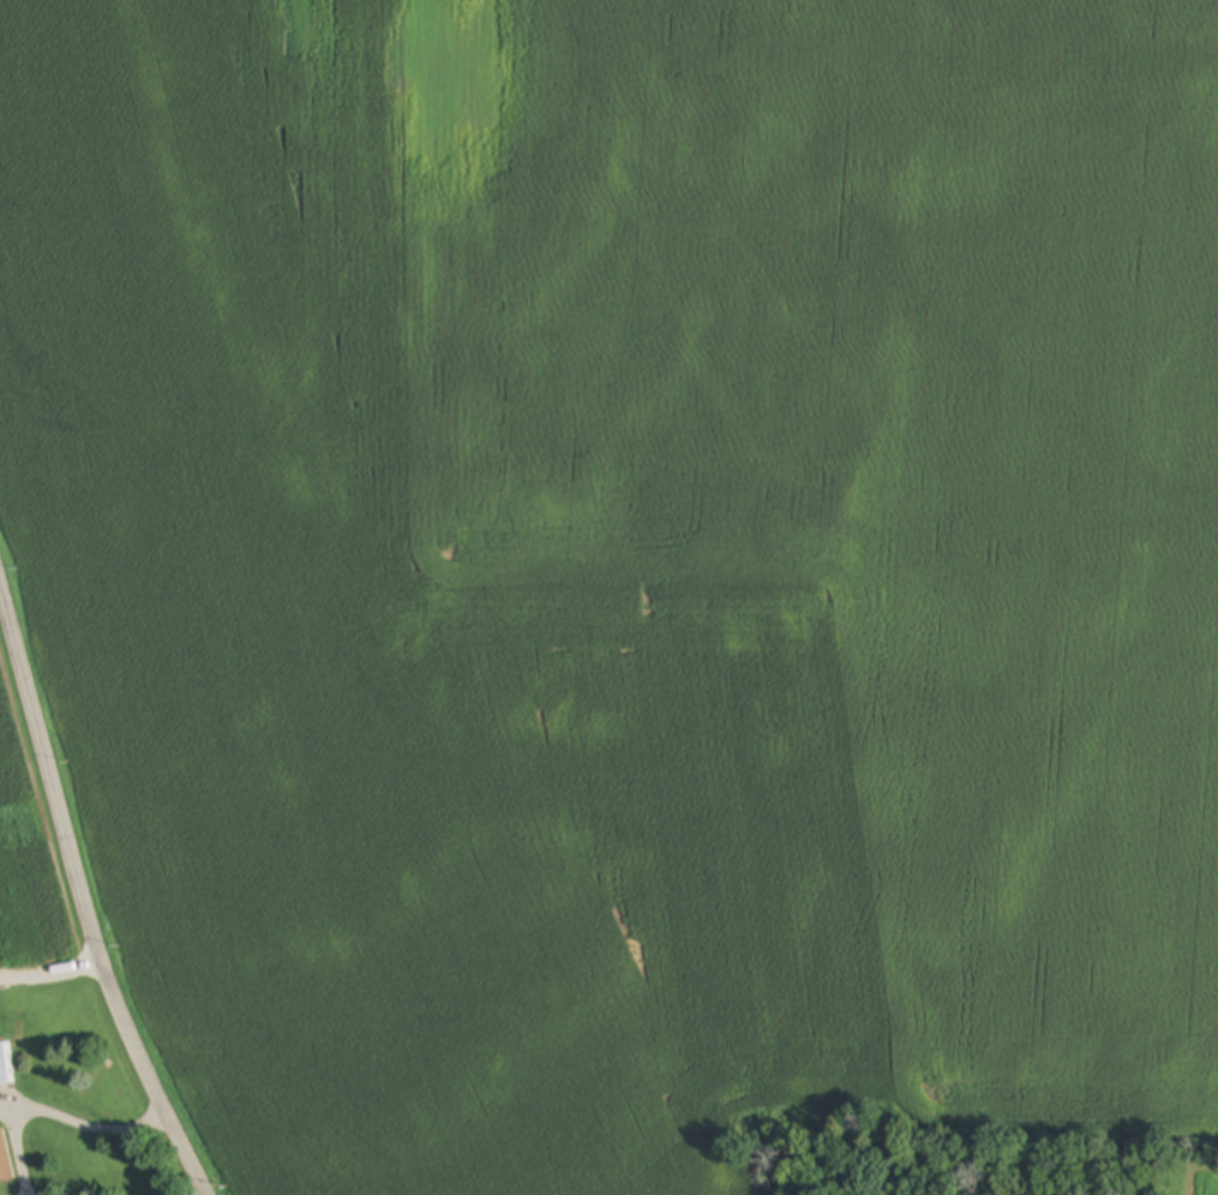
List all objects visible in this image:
road: (85, 889)
road: (54, 973)
building: (4, 1065)
road: (85, 1123)
road: (16, 1149)
building: (5, 1159)

